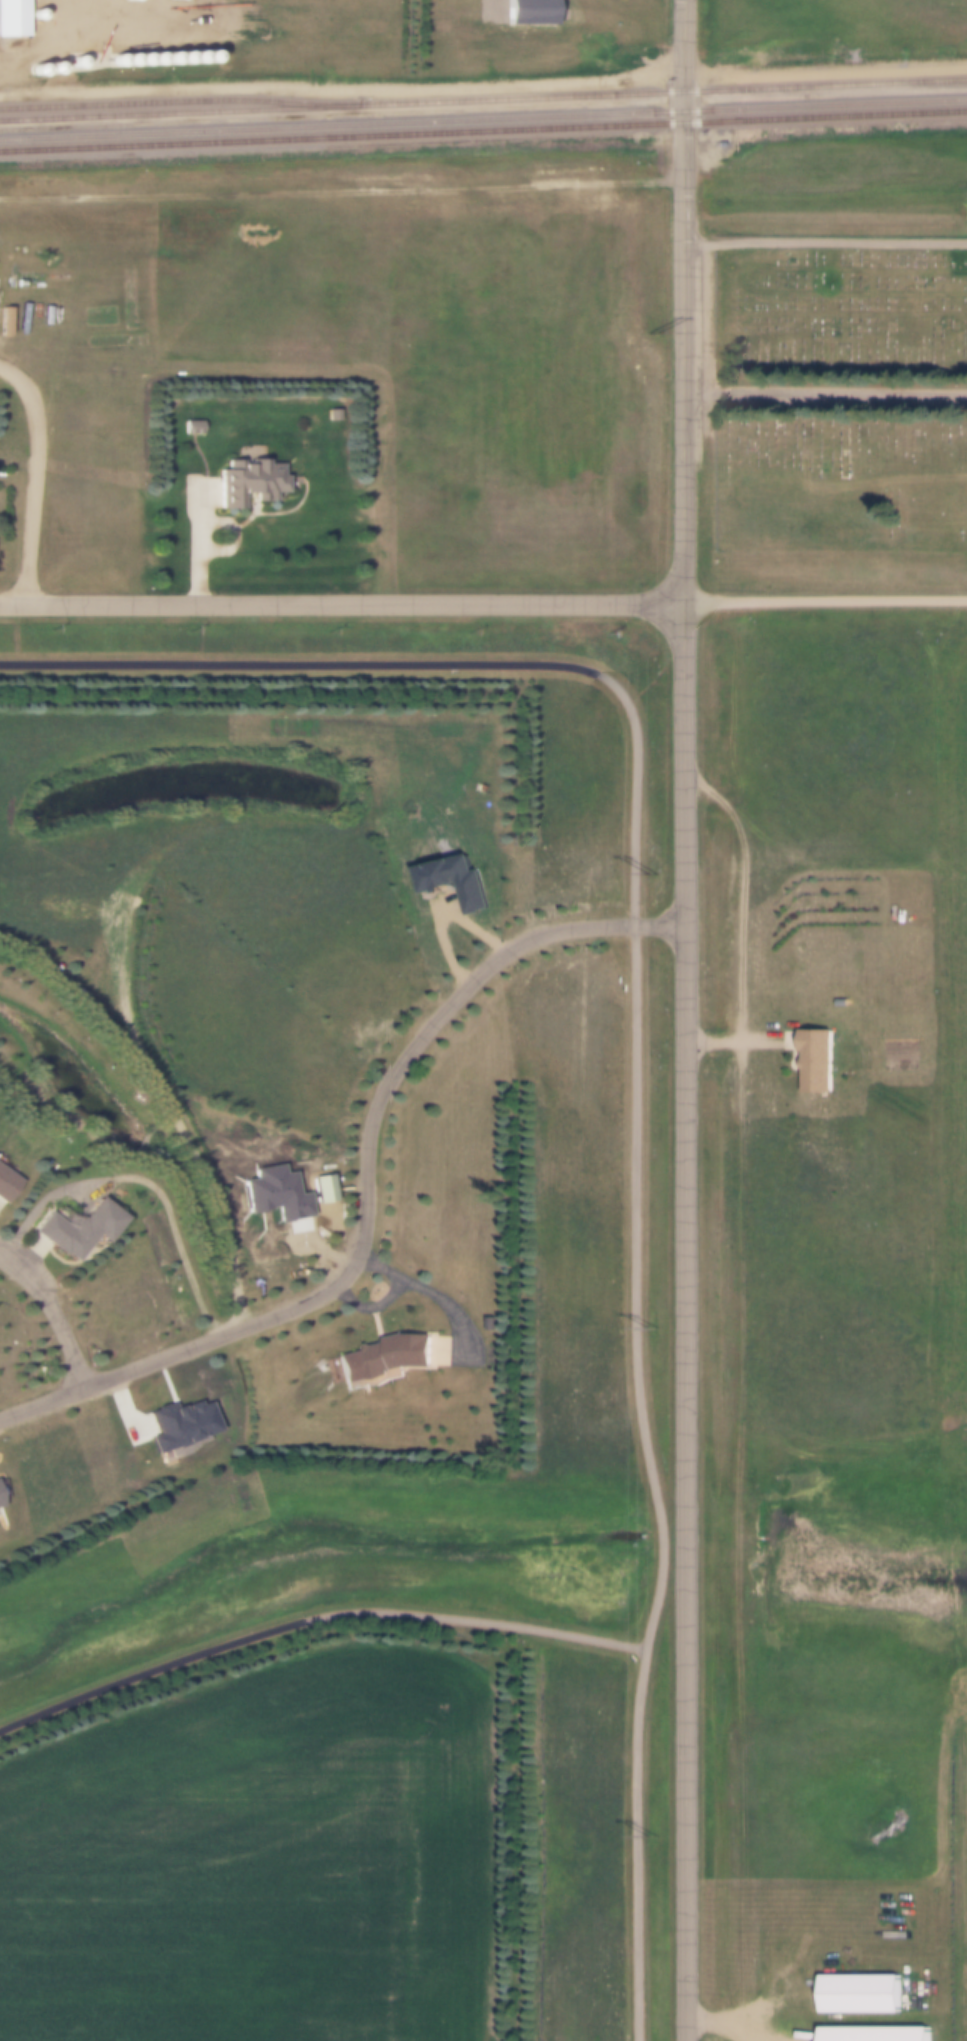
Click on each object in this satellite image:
building: (121, 1)
silo: (121, 1)
building: (527, 12)
building: (12, 18)
building: (180, 57)
silo: (180, 57)
building: (194, 57)
silo: (194, 57)
building: (207, 57)
silo: (207, 57)
building: (167, 58)
silo: (167, 58)
building: (129, 59)
silo: (129, 59)
building: (142, 59)
silo: (142, 59)
building: (155, 59)
silo: (155, 59)
building: (116, 60)
silo: (116, 60)
building: (78, 62)
silo: (78, 62)
building: (51, 68)
silo: (51, 68)
railway: (483, 99)
railway: (179, 100)
railway: (483, 119)
railway: (483, 132)
road: (341, 194)
road: (682, 197)
road: (825, 241)
building: (127, 299)
building: (99, 316)
building: (115, 340)
road: (824, 393)
park: (840, 394)
building: (191, 427)
road: (33, 479)
building: (246, 482)
road: (229, 538)
road: (200, 543)
road: (824, 601)
road: (340, 605)
building: (451, 881)
road: (748, 892)
road: (734, 1041)
road: (634, 1054)
building: (811, 1060)
building: (6, 1185)
road: (367, 1189)
road: (37, 1203)
road: (683, 1218)
building: (79, 1229)
road: (174, 1232)
road: (53, 1314)
building: (381, 1357)
building: (178, 1424)
road: (312, 1618)
building: (850, 1984)
building: (865, 2028)

